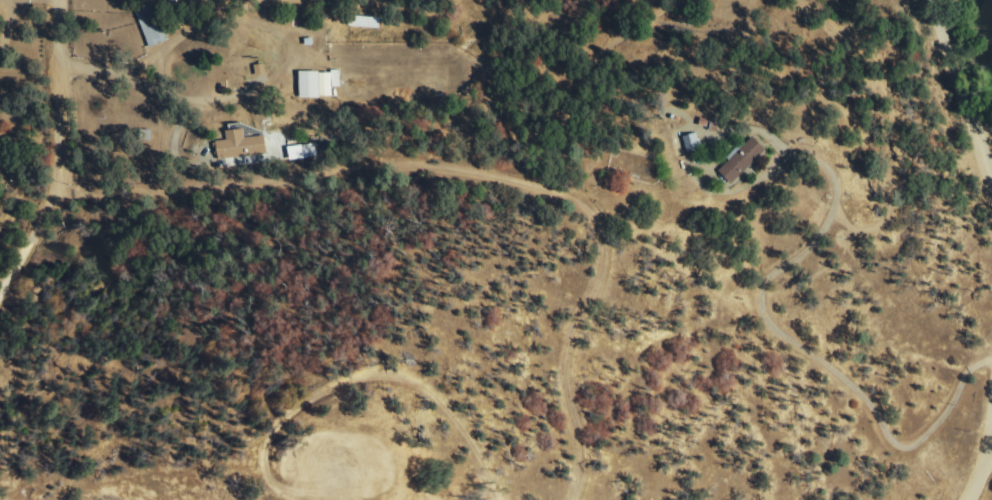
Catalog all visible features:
building: (366, 22)
building: (152, 27)
building: (261, 69)
building: (318, 83)
road: (963, 98)
road: (982, 125)
building: (692, 142)
building: (241, 145)
building: (302, 152)
road: (62, 160)
building: (744, 160)
road: (478, 174)
road: (778, 331)
road: (457, 431)
road: (977, 457)
road: (983, 465)

